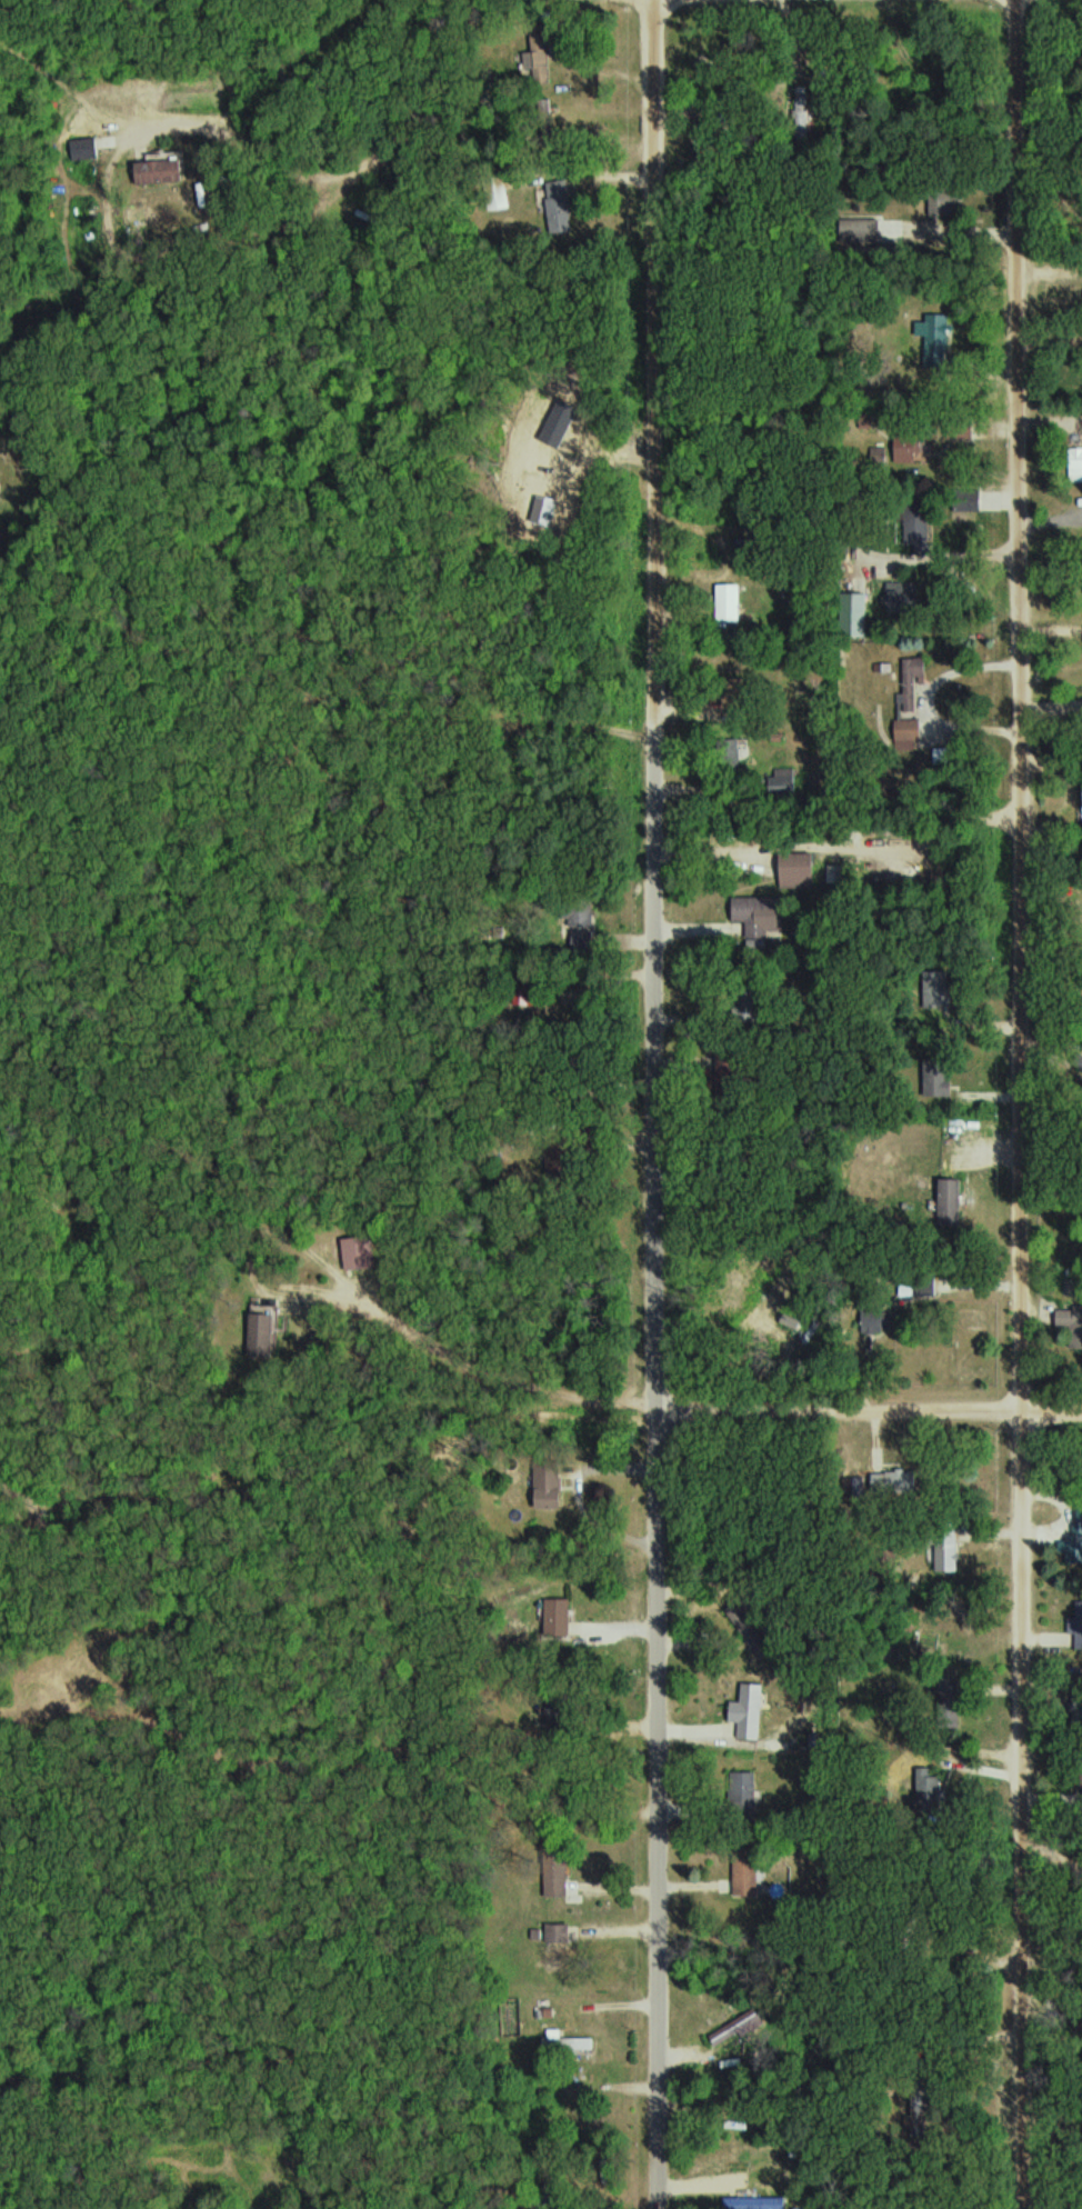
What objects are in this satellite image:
road: (470, 12)
road: (413, 61)
building: (540, 66)
building: (91, 148)
building: (499, 193)
building: (946, 201)
building: (561, 206)
building: (940, 333)
building: (969, 428)
building: (911, 448)
building: (881, 458)
building: (1080, 458)
building: (920, 536)
building: (732, 602)
building: (916, 669)
building: (911, 730)
building: (730, 758)
building: (782, 782)
building: (800, 871)
building: (836, 873)
building: (760, 910)
building: (579, 914)
building: (584, 941)
building: (939, 989)
building: (940, 1078)
road: (660, 1103)
road: (1024, 1103)
building: (952, 1201)
building: (929, 1288)
building: (1072, 1320)
road: (545, 1326)
building: (266, 1332)
road: (871, 1410)
building: (550, 1486)
building: (1076, 1531)
building: (950, 1552)
building: (560, 1616)
building: (753, 1710)
building: (932, 1789)
building: (745, 1798)
building: (558, 1878)
building: (748, 1879)
building: (561, 1930)
building: (740, 2033)
building: (567, 2041)

